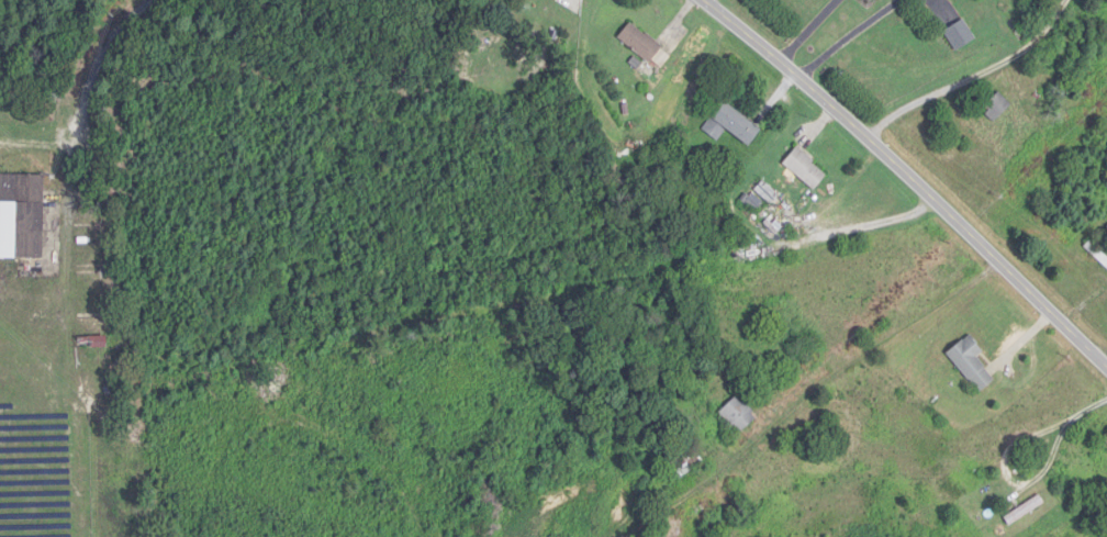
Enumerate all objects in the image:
building: (961, 36)
building: (646, 47)
road: (93, 75)
road: (971, 76)
building: (998, 108)
building: (733, 124)
building: (806, 168)
road: (910, 176)
building: (22, 216)
building: (93, 342)
building: (972, 363)
building: (739, 415)
building: (1026, 511)

